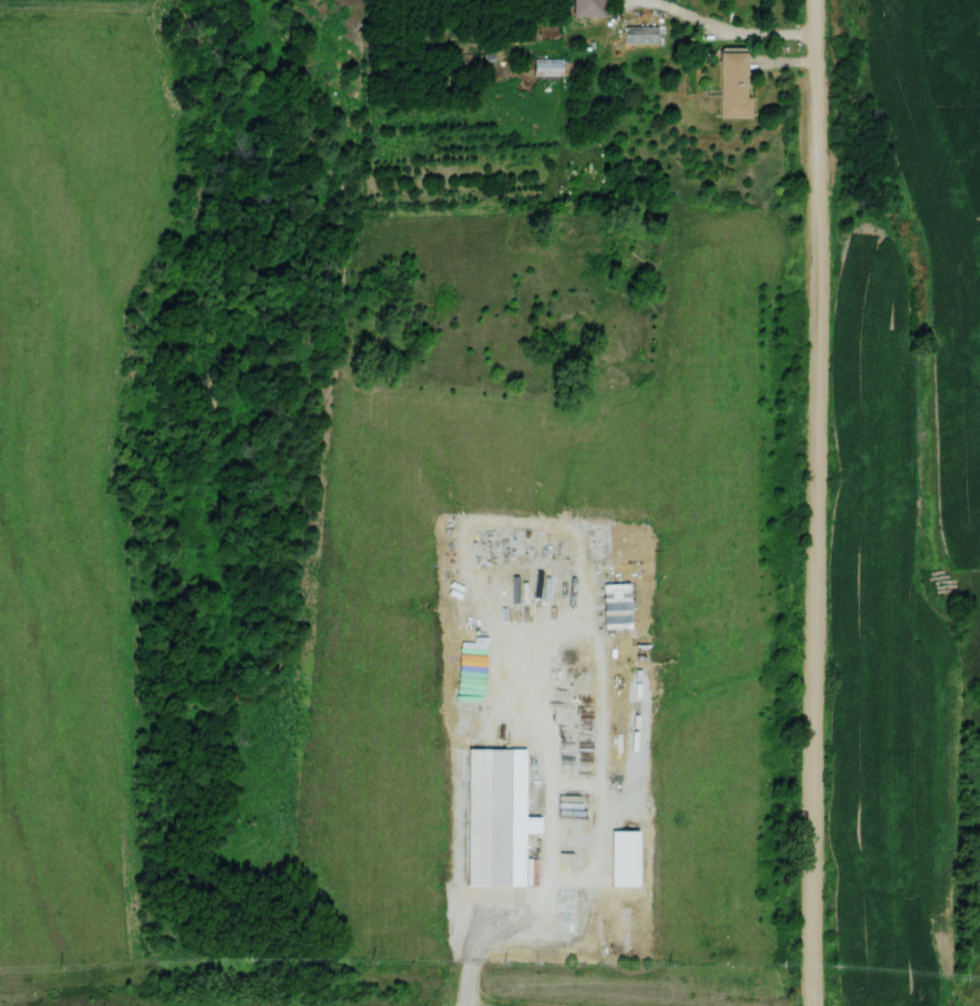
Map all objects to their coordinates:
building: (585, 8)
road: (694, 23)
building: (640, 35)
building: (546, 70)
building: (732, 86)
road: (811, 502)
building: (615, 607)
building: (496, 819)
building: (624, 858)
road: (499, 934)

